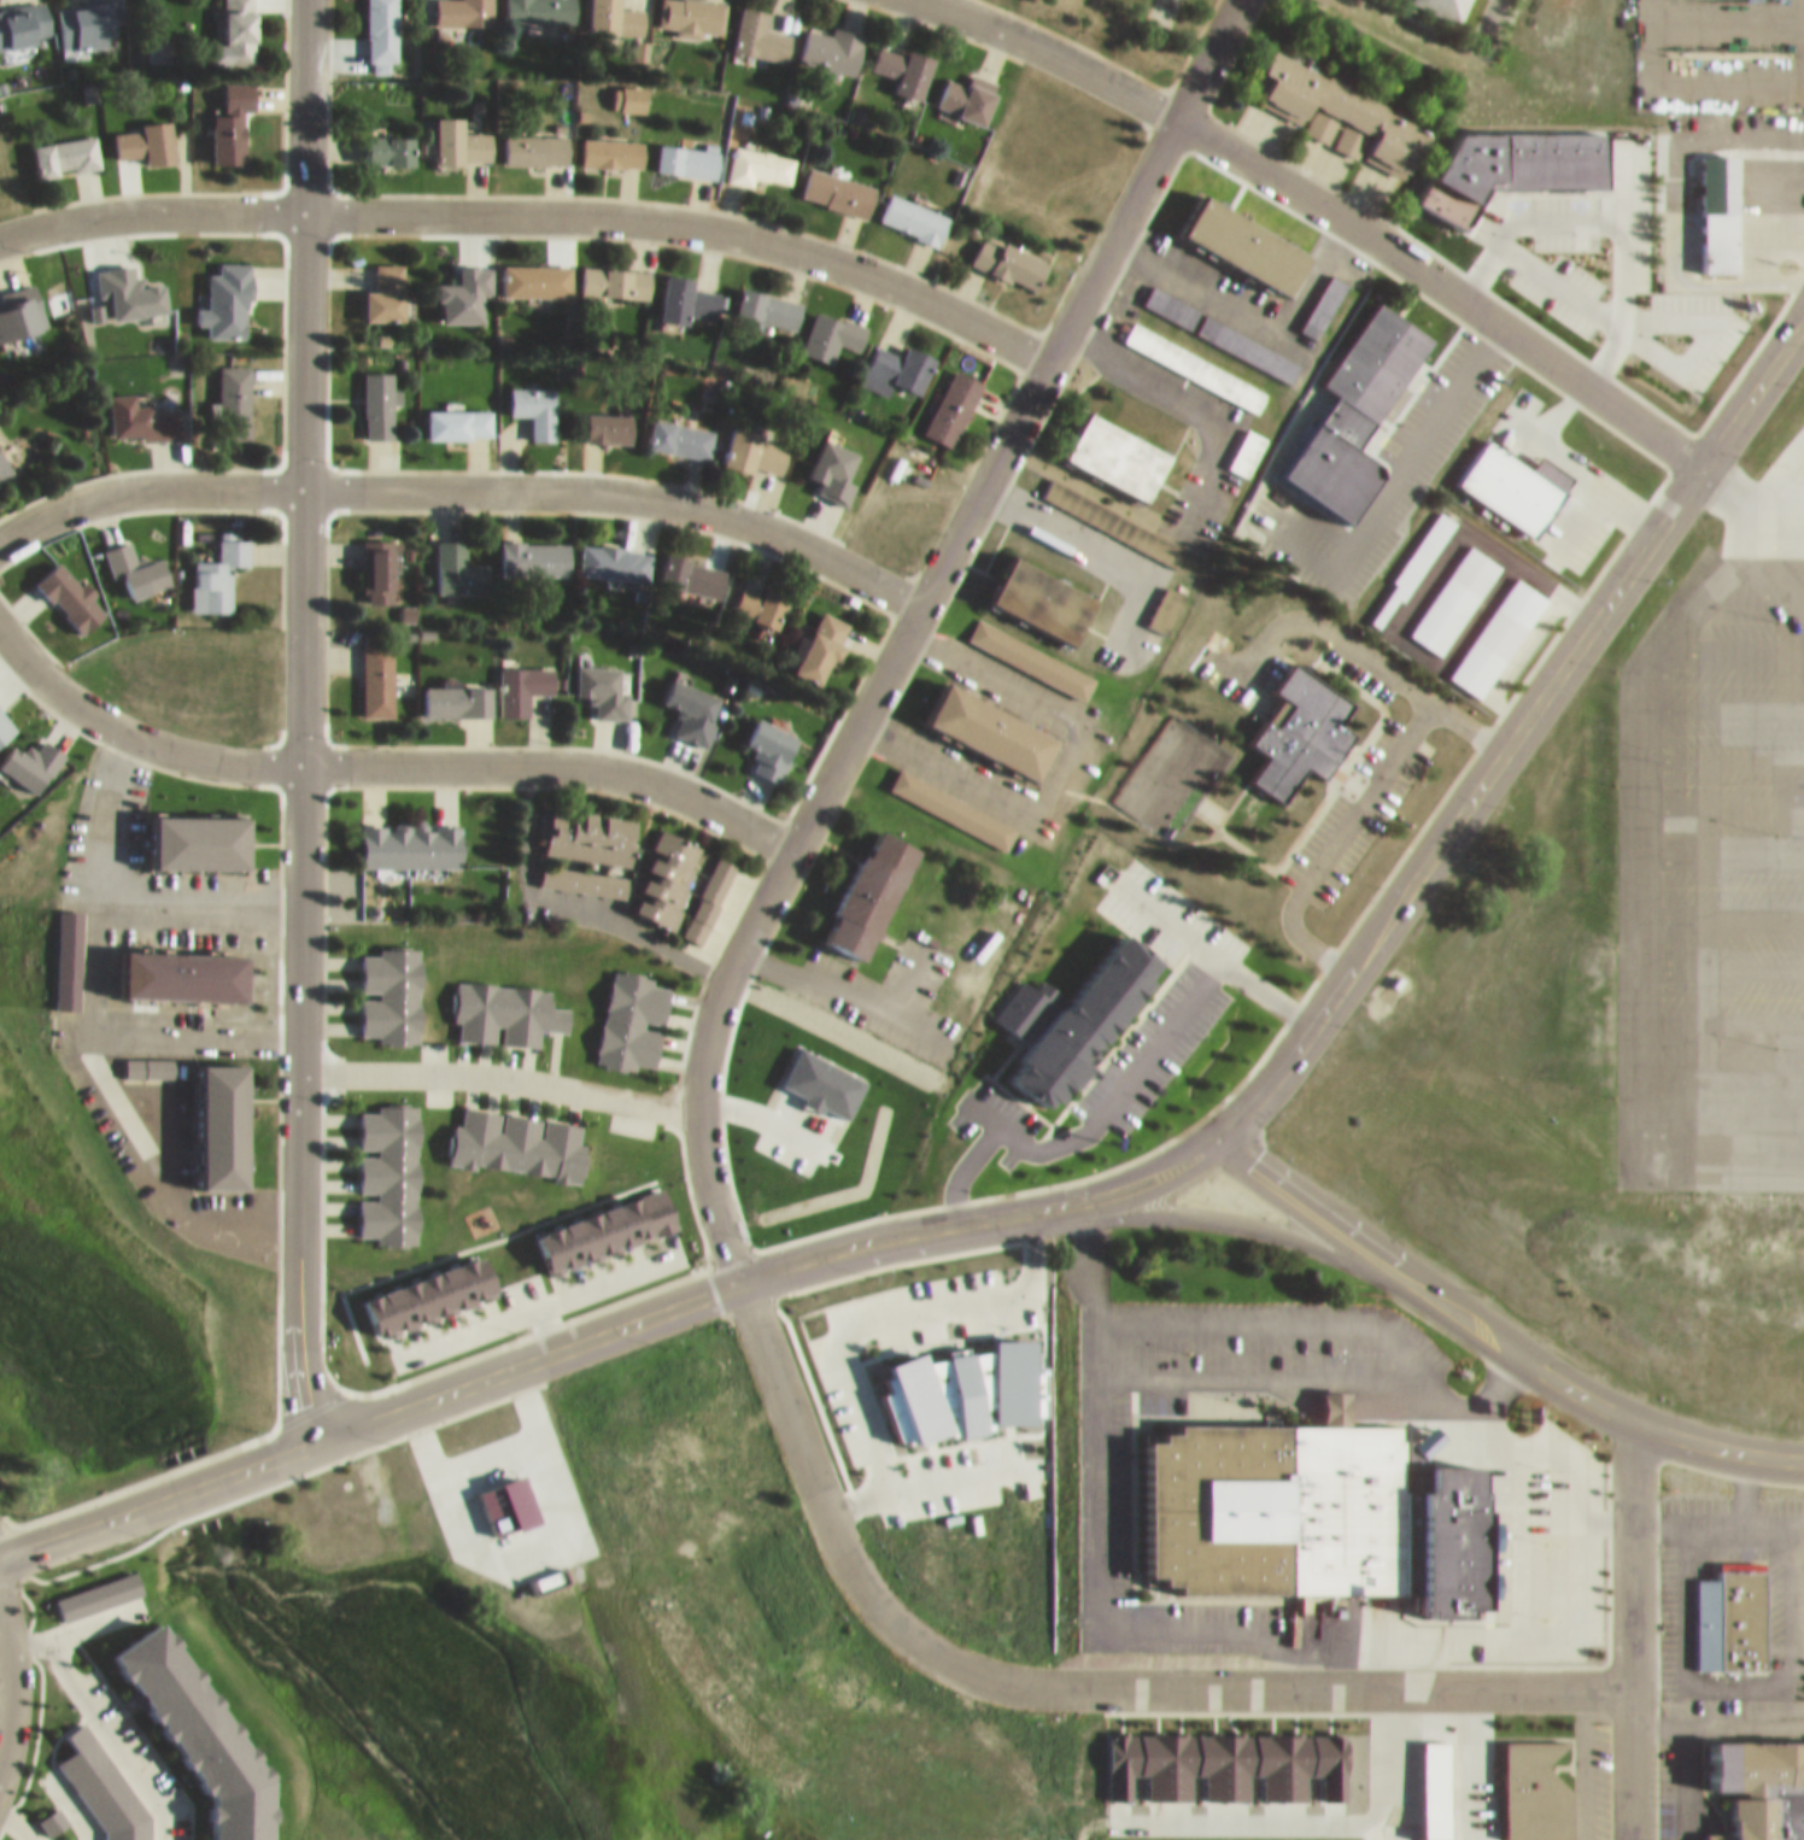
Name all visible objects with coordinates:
building: (1455, 4)
building: (540, 5)
building: (464, 6)
building: (692, 10)
building: (619, 11)
road: (1488, 11)
road: (1724, 14)
building: (24, 16)
building: (88, 17)
building: (382, 25)
building: (762, 25)
building: (242, 27)
building: (832, 37)
building: (906, 59)
road: (1724, 70)
building: (971, 87)
building: (1337, 98)
building: (234, 112)
building: (463, 130)
building: (148, 131)
building: (538, 137)
building: (393, 139)
building: (615, 141)
building: (68, 145)
building: (689, 150)
building: (760, 156)
building: (839, 181)
road: (535, 203)
road: (1335, 203)
building: (915, 207)
building: (1705, 229)
building: (1252, 232)
building: (1021, 253)
building: (538, 269)
building: (619, 271)
building: (133, 281)
building: (388, 282)
building: (468, 283)
building: (228, 291)
building: (689, 292)
building: (1171, 295)
building: (769, 297)
building: (22, 300)
road: (1253, 307)
building: (1209, 316)
building: (832, 324)
building: (1380, 350)
building: (1195, 356)
building: (898, 357)
building: (235, 389)
building: (380, 392)
road: (1430, 392)
building: (956, 393)
road: (1201, 394)
building: (537, 398)
building: (142, 406)
building: (461, 411)
parking lot: (1407, 411)
building: (611, 416)
building: (683, 426)
road: (1799, 434)
building: (758, 440)
building: (1248, 440)
parking lot: (1228, 441)
building: (1123, 444)
building: (5, 453)
road: (1774, 457)
building: (1518, 463)
road: (464, 477)
road: (1779, 484)
parking lot: (1592, 488)
road: (1577, 499)
road: (1777, 533)
road: (1102, 541)
building: (535, 546)
building: (616, 550)
building: (139, 558)
building: (381, 558)
building: (459, 558)
building: (1412, 559)
building: (221, 563)
building: (695, 564)
road: (1757, 584)
building: (74, 586)
building: (1049, 590)
building: (765, 594)
building: (1168, 598)
road: (902, 622)
building: (825, 637)
road: (1359, 641)
road: (1734, 641)
building: (1032, 647)
parking lot: (1358, 660)
building: (379, 662)
building: (523, 676)
building: (604, 679)
building: (456, 690)
road: (1723, 697)
parking lot: (1077, 715)
road: (1521, 715)
road: (303, 716)
building: (990, 716)
building: (1304, 717)
road: (131, 726)
building: (773, 738)
road: (1723, 748)
road: (553, 757)
road: (1059, 758)
park: (1168, 764)
road: (1723, 797)
building: (956, 799)
parking lot: (1355, 802)
building: (593, 825)
building: (207, 831)
road: (1332, 831)
road: (1176, 832)
building: (414, 834)
road: (1723, 849)
parking lot: (1715, 850)
road: (1644, 859)
building: (668, 867)
building: (607, 874)
building: (874, 881)
building: (710, 889)
road: (201, 893)
road: (562, 895)
road: (1723, 904)
road: (1211, 939)
building: (69, 948)
road: (1723, 960)
building: (191, 965)
road: (908, 969)
road: (99, 973)
road: (848, 981)
building: (392, 983)
parking lot: (891, 983)
parking lot: (1159, 985)
parking lot: (156, 989)
building: (506, 1001)
building: (1061, 1007)
road: (1723, 1008)
building: (634, 1009)
road: (1723, 1060)
road: (499, 1065)
road: (1109, 1091)
road: (1723, 1108)
parking lot: (995, 1109)
building: (230, 1115)
building: (520, 1132)
road: (960, 1160)
building: (389, 1162)
road: (157, 1168)
road: (984, 1209)
road: (1214, 1209)
building: (608, 1220)
building: (434, 1285)
building: (989, 1287)
parking lot: (534, 1300)
road: (531, 1302)
road: (1275, 1309)
road: (547, 1320)
road: (1490, 1328)
road: (1264, 1369)
road: (480, 1370)
road: (1030, 1442)
road: (195, 1477)
building: (335, 1483)
building: (1317, 1504)
road: (83, 1516)
road: (1570, 1539)
road: (1522, 1593)
building: (1721, 1607)
road: (1090, 1608)
road: (1630, 1627)
road: (14, 1676)
road: (1065, 1677)
road: (1717, 1716)
road: (1017, 1753)
road: (1689, 1777)
building: (1459, 1782)
building: (1757, 1782)
building: (1536, 1783)

